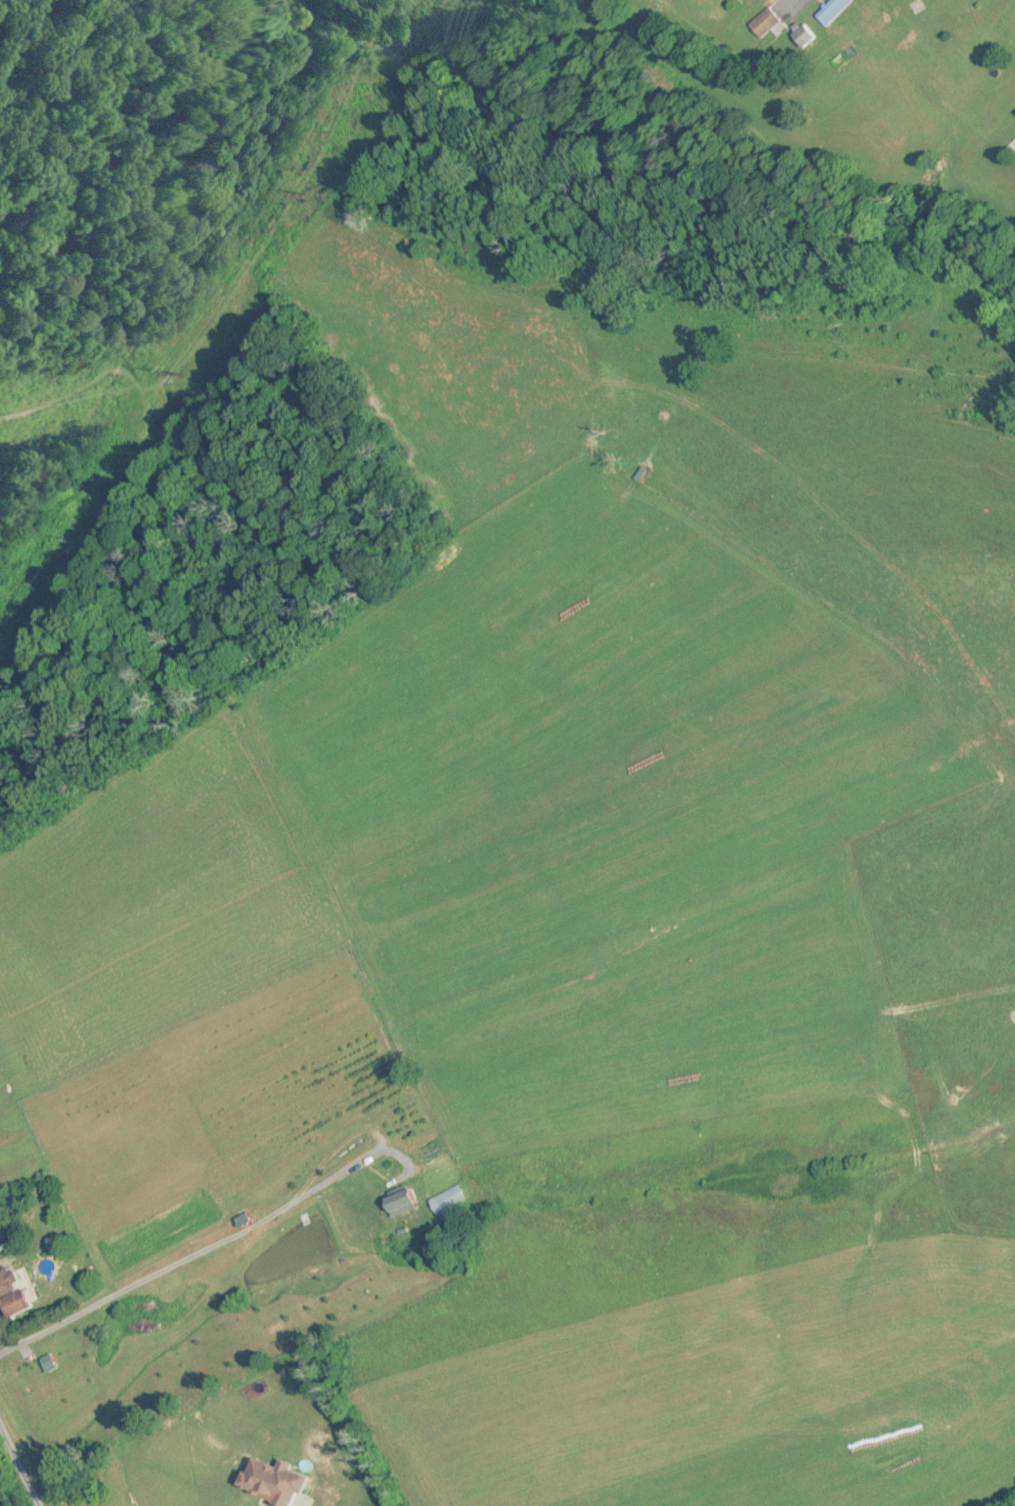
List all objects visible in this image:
road: (796, 1)
building: (829, 11)
building: (765, 25)
building: (800, 37)
building: (400, 1205)
road: (198, 1249)
building: (158, 1283)
building: (20, 1294)
road: (17, 1469)

